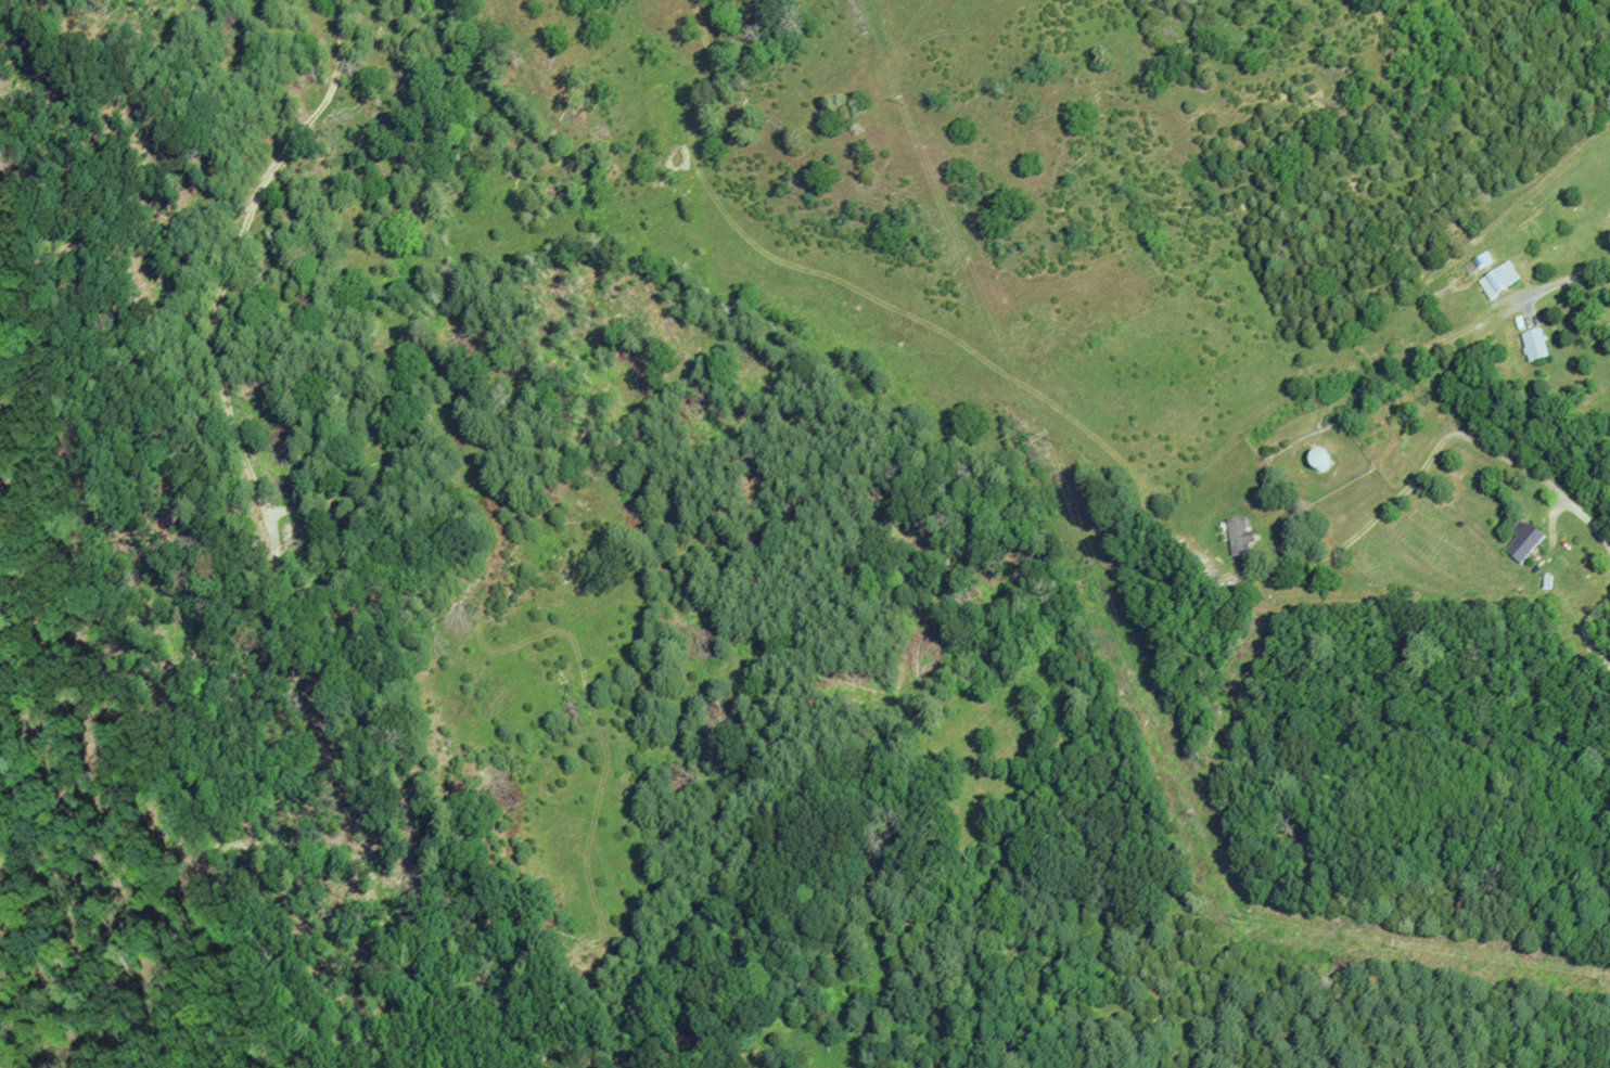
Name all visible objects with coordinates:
building: (1479, 266)
building: (1499, 280)
road: (1563, 280)
building: (1537, 345)
road: (1431, 461)
water tower: (1318, 462)
building: (1318, 463)
building: (1240, 537)
building: (1523, 541)
building: (1546, 581)
road: (1588, 631)

